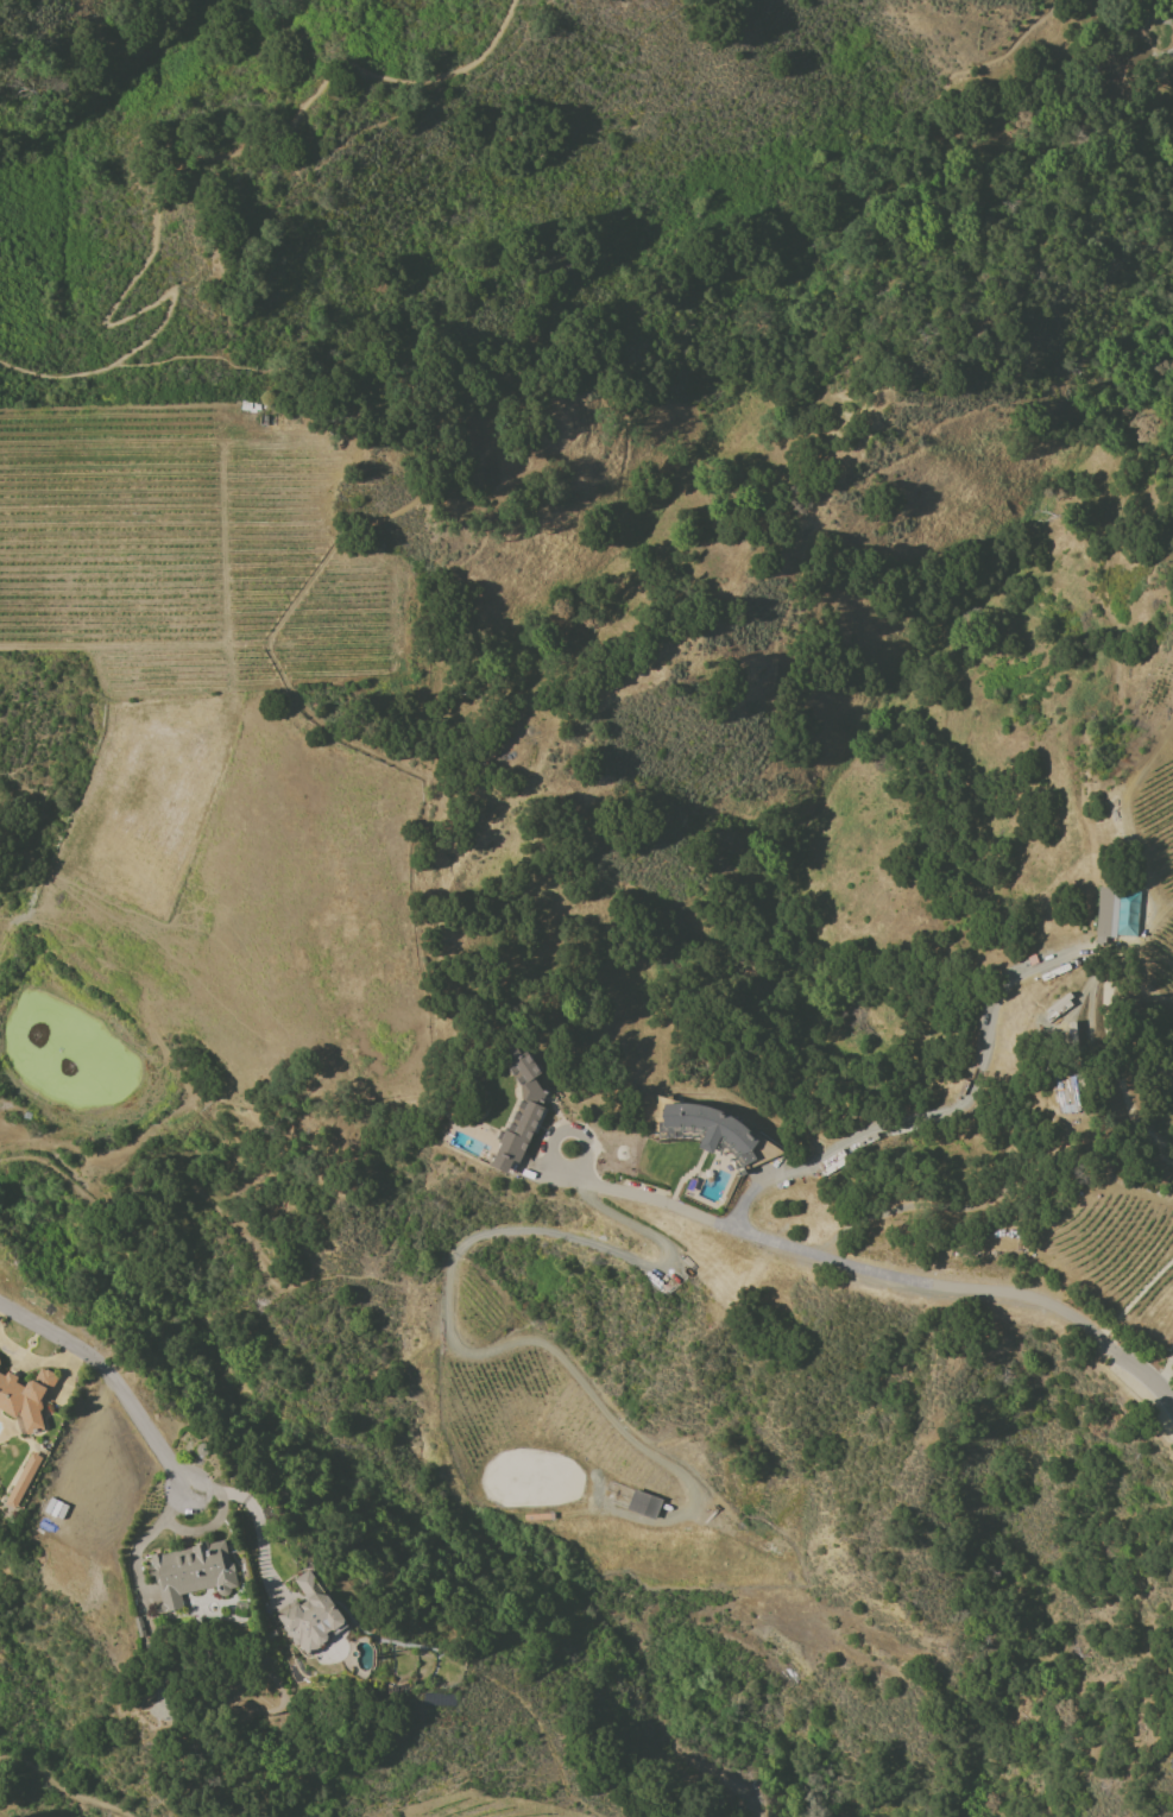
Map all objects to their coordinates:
road: (164, 183)
road: (411, 909)
building: (1105, 914)
building: (1066, 1093)
building: (519, 1115)
road: (922, 1115)
road: (876, 1269)
building: (0, 1361)
road: (37, 1362)
road: (1165, 1369)
road: (115, 1380)
building: (25, 1395)
building: (21, 1482)
building: (643, 1504)
road: (246, 1507)
building: (190, 1567)
building: (311, 1615)
building: (1171, 1766)
road: (59, 1792)

